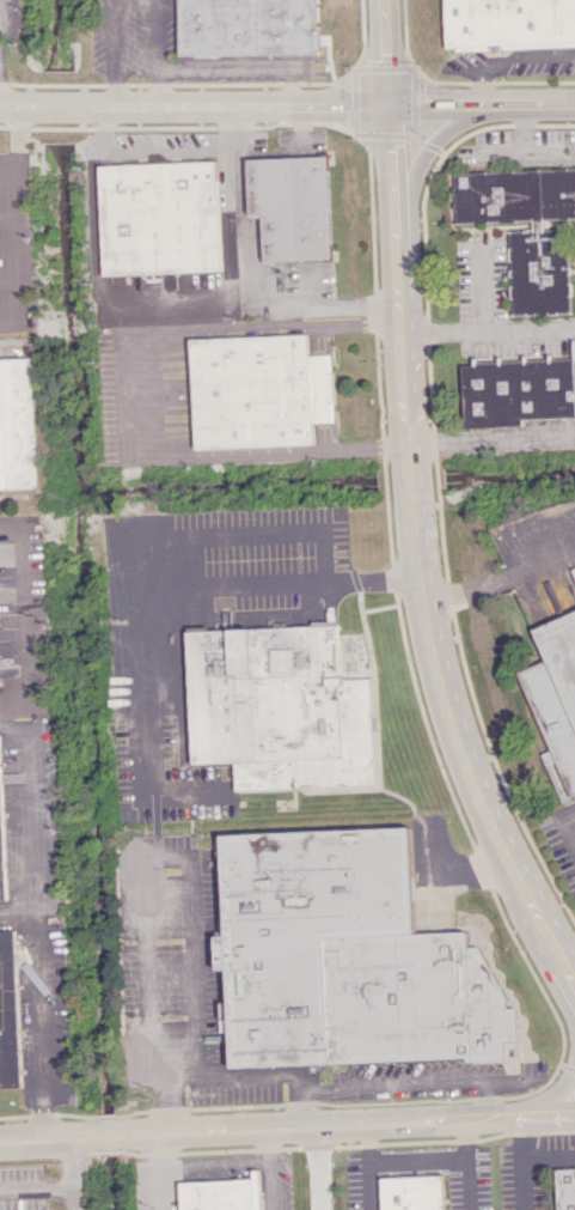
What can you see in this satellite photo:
road: (1, 8)
building: (509, 24)
building: (251, 26)
road: (509, 57)
road: (331, 101)
road: (16, 105)
road: (60, 107)
road: (302, 121)
road: (104, 129)
road: (177, 148)
road: (526, 151)
road: (502, 153)
building: (294, 206)
building: (163, 217)
building: (527, 230)
road: (247, 268)
road: (485, 288)
road: (489, 327)
building: (259, 390)
building: (518, 391)
road: (129, 394)
building: (17, 425)
road: (491, 438)
road: (409, 510)
road: (210, 534)
road: (502, 574)
building: (555, 694)
building: (280, 707)
road: (14, 716)
road: (147, 736)
road: (32, 819)
building: (2, 829)
road: (558, 832)
road: (18, 906)
building: (347, 956)
road: (569, 967)
building: (10, 1011)
road: (209, 1075)
road: (390, 1082)
road: (487, 1099)
road: (300, 1108)
road: (348, 1125)
road: (109, 1136)
road: (48, 1138)
road: (415, 1159)
road: (520, 1162)
road: (465, 1163)
road: (366, 1167)
road: (319, 1168)
road: (268, 1169)
road: (155, 1173)
road: (74, 1174)
road: (37, 1187)
building: (564, 1188)
building: (412, 1192)
building: (224, 1193)

